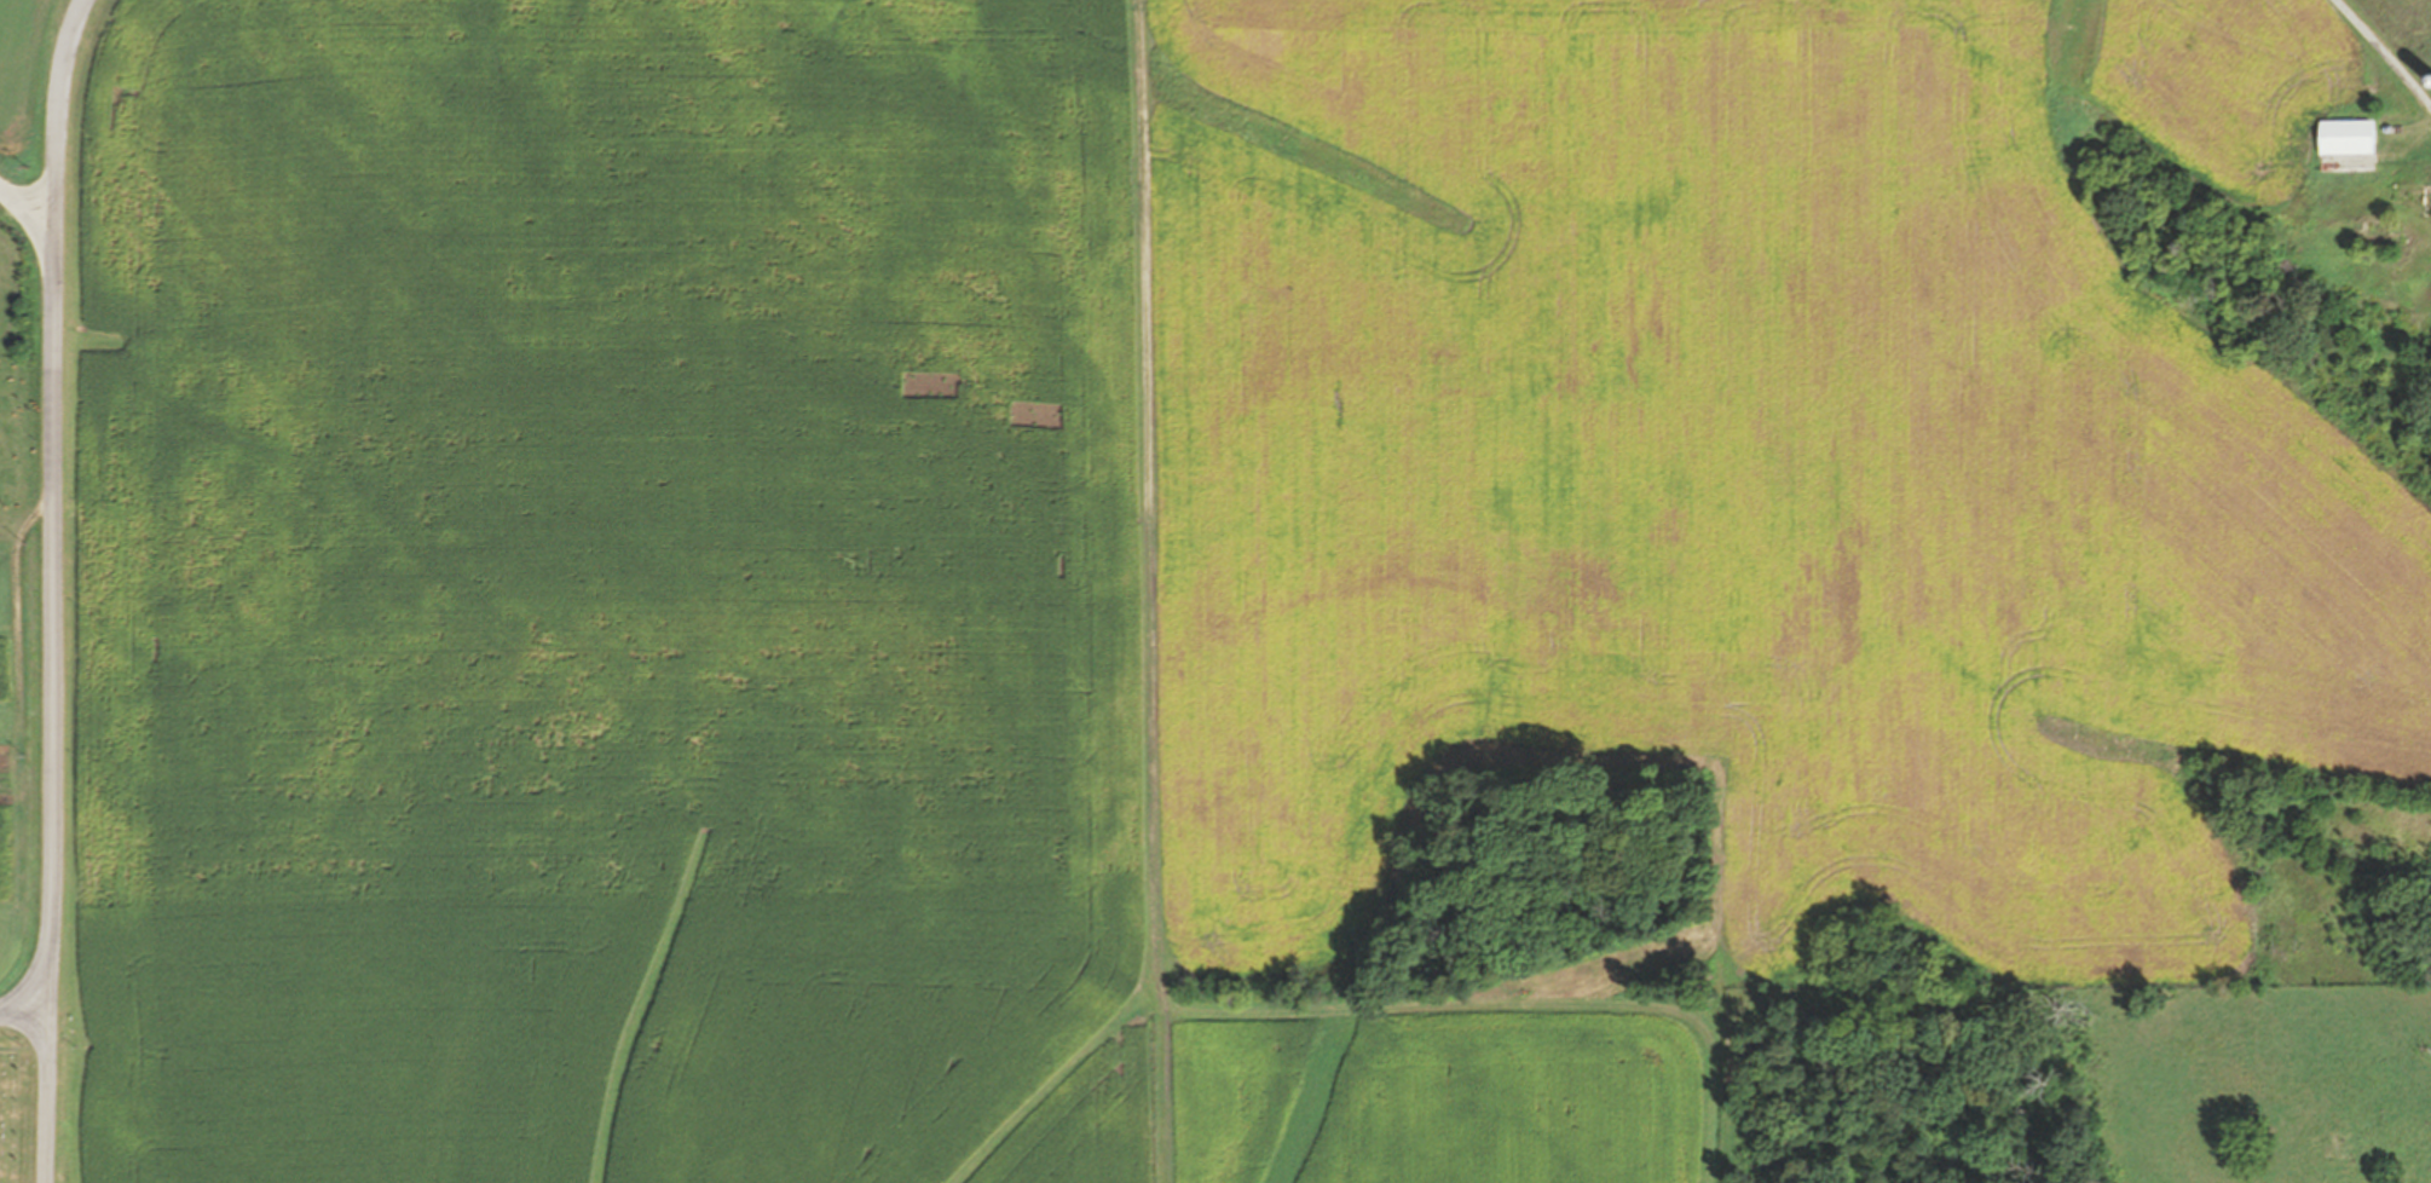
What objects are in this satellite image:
road: (2396, 34)
building: (2344, 135)
road: (25, 215)
road: (48, 503)
road: (22, 1014)
park: (22, 1098)
road: (45, 1098)

